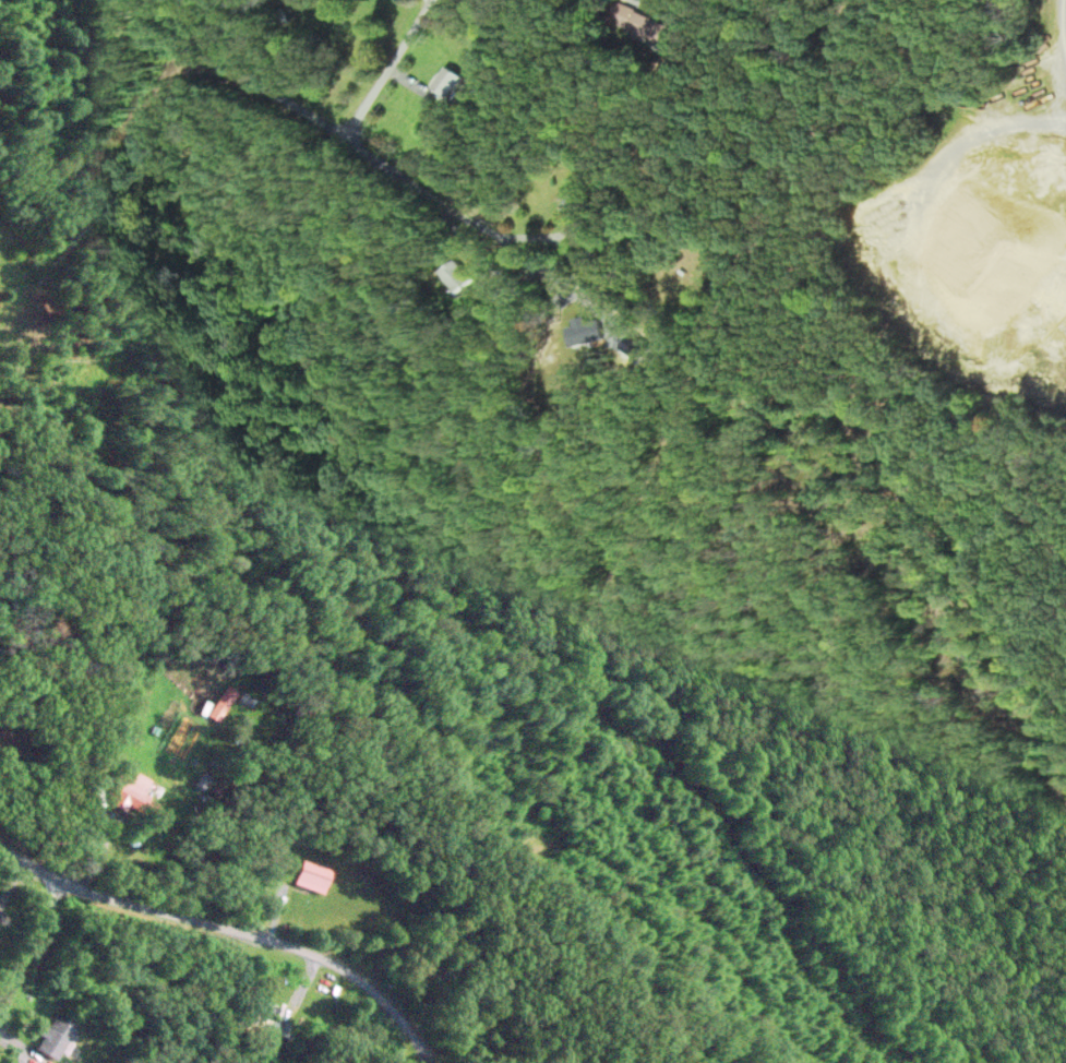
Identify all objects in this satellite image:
building: (363, 0)
road: (1061, 7)
road: (1063, 23)
building: (645, 27)
road: (386, 70)
building: (450, 82)
road: (333, 134)
building: (580, 205)
building: (459, 276)
building: (313, 875)
road: (230, 931)
road: (27, 937)
building: (252, 1025)
building: (58, 1035)

